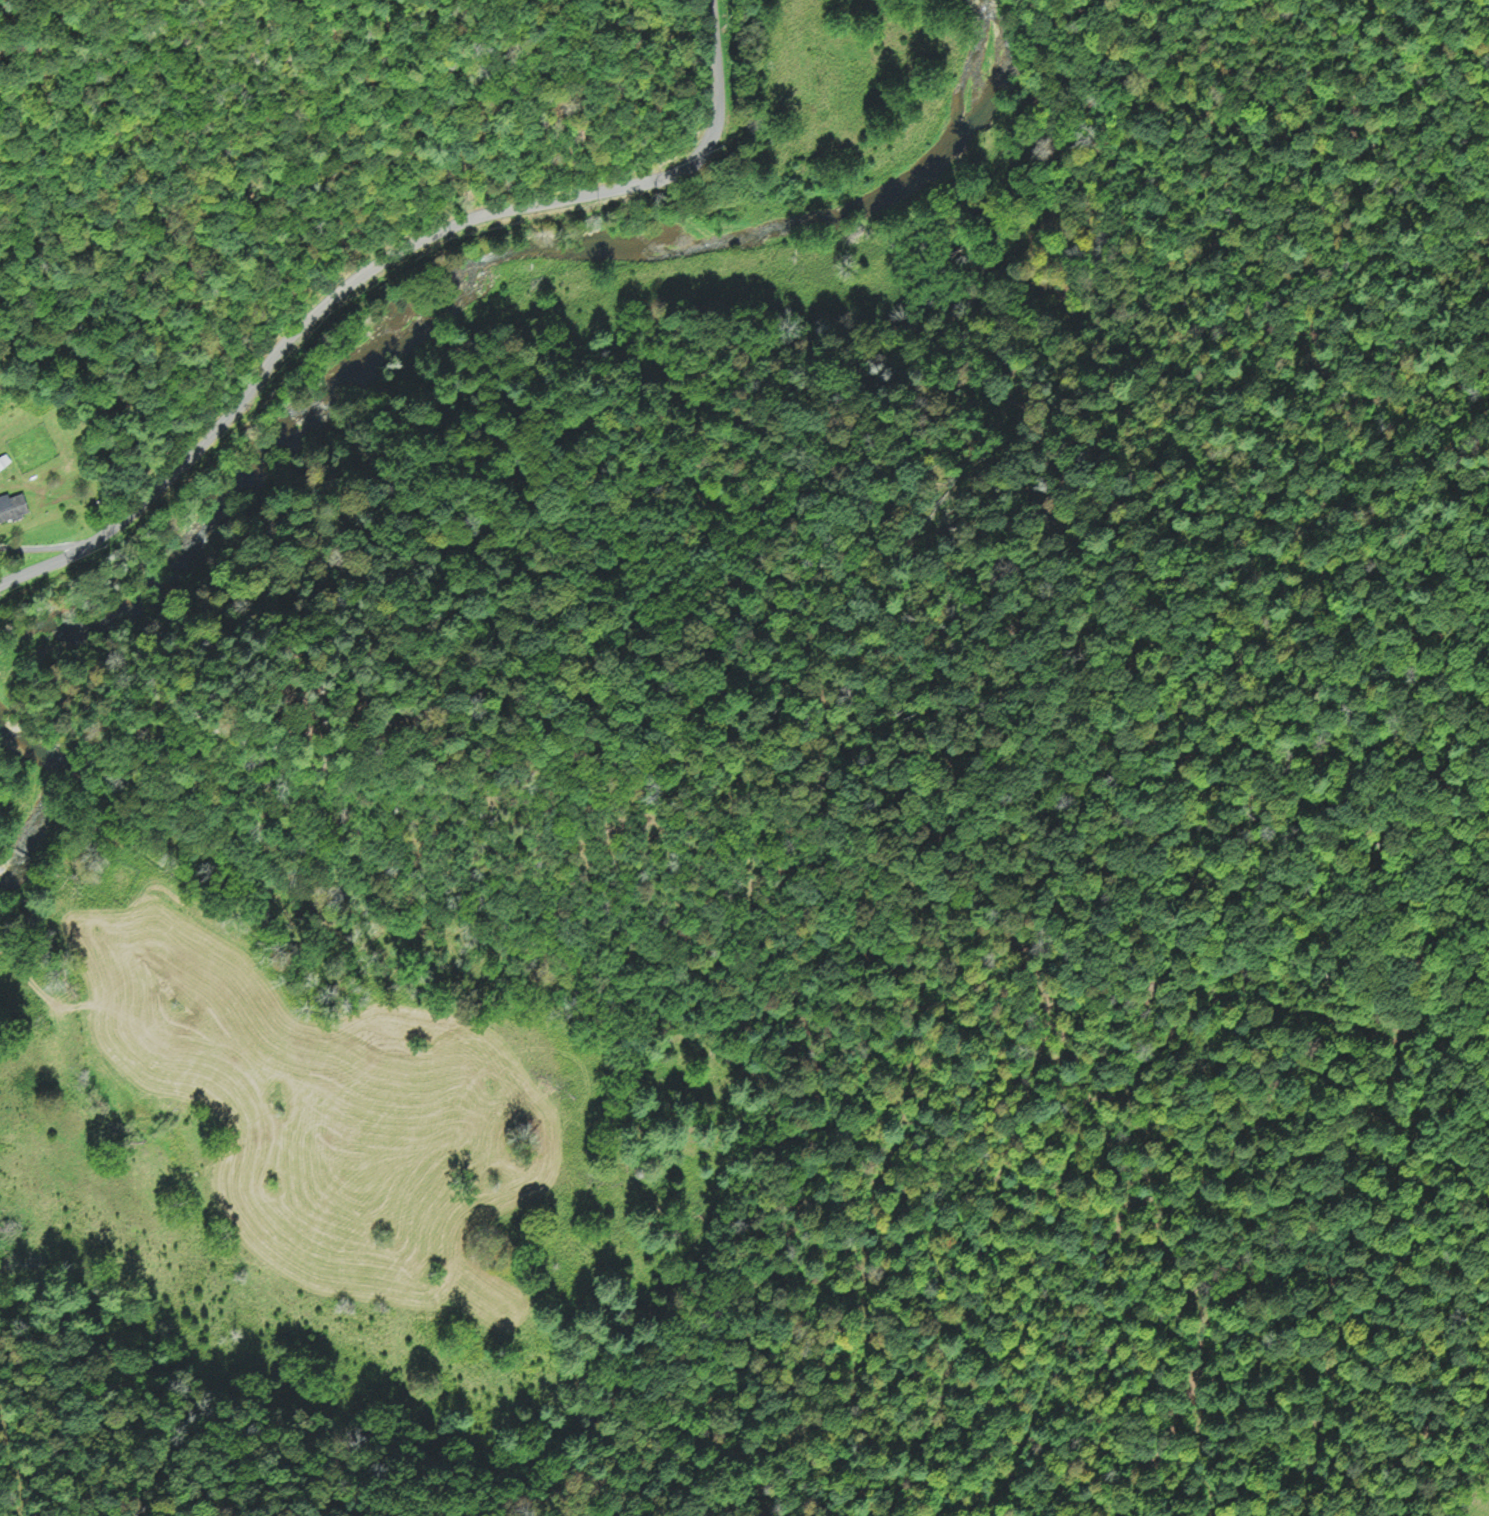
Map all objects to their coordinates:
road: (379, 265)
building: (4, 459)
building: (11, 506)
road: (45, 548)

